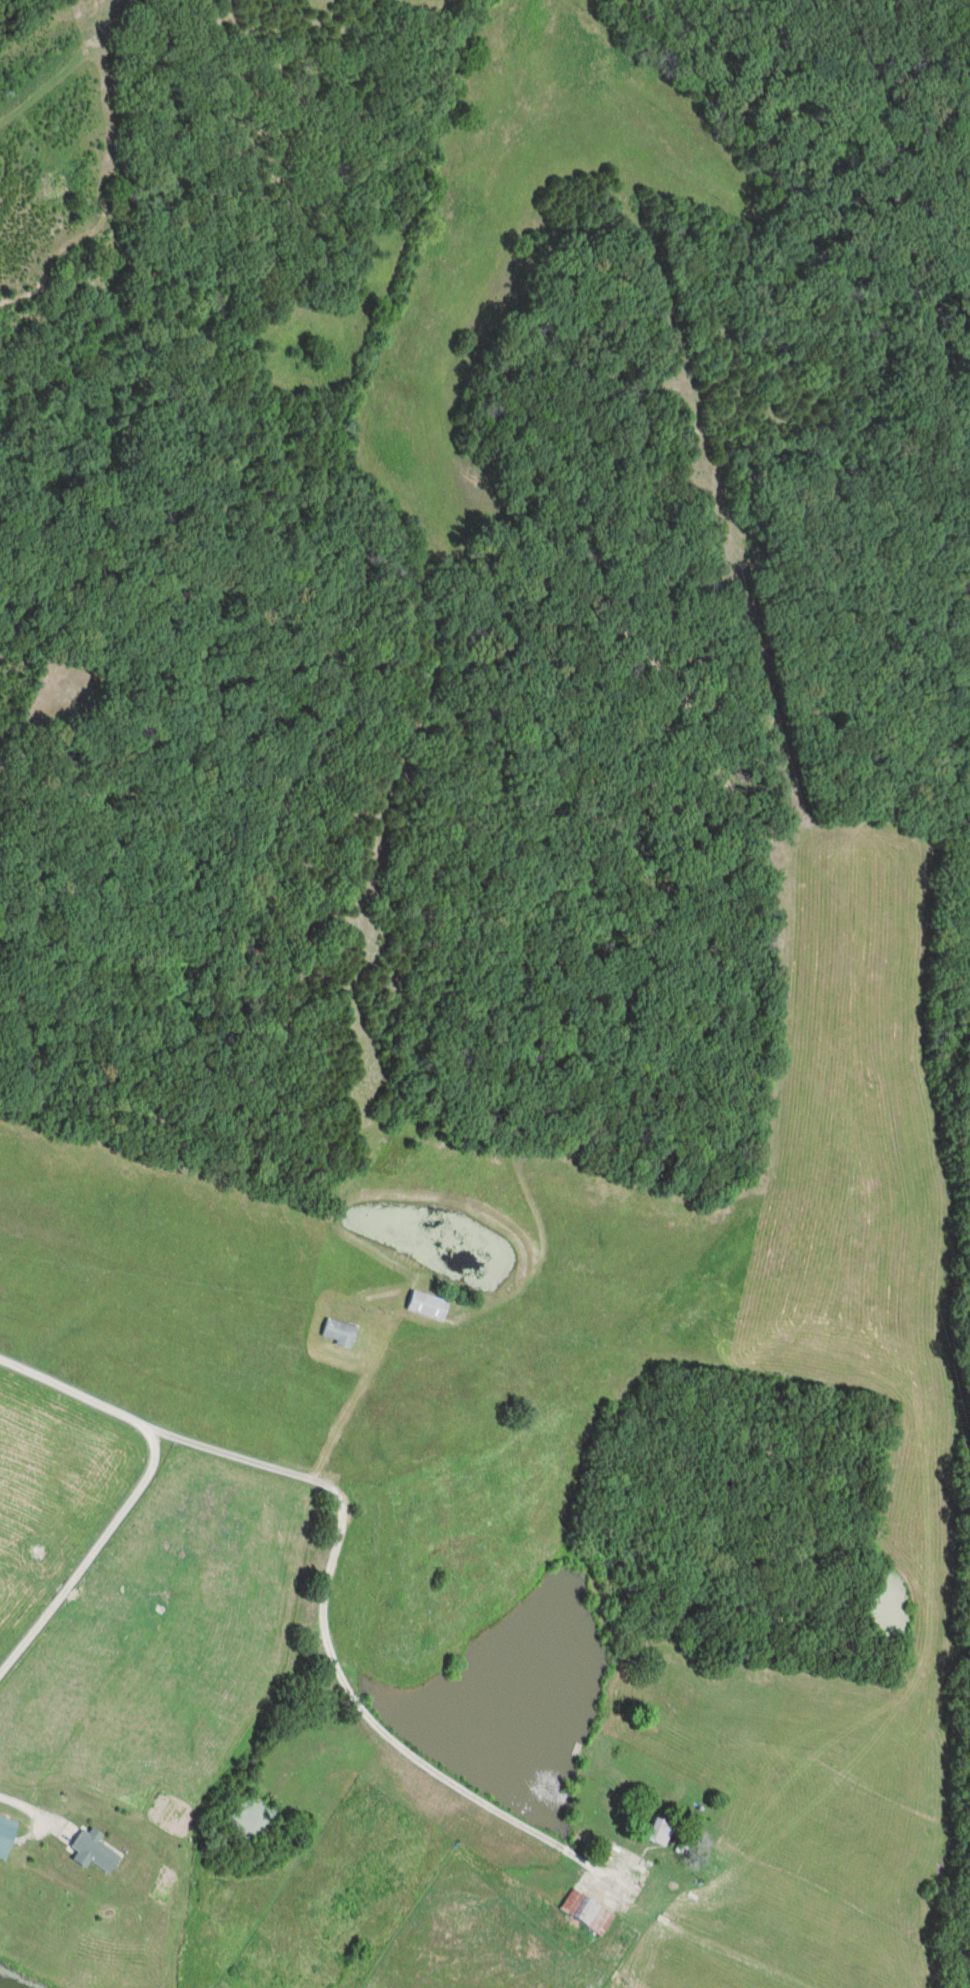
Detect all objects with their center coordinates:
building: (426, 1306)
building: (338, 1334)
road: (329, 1573)
building: (659, 1831)
building: (6, 1835)
building: (601, 1851)
building: (586, 1912)

